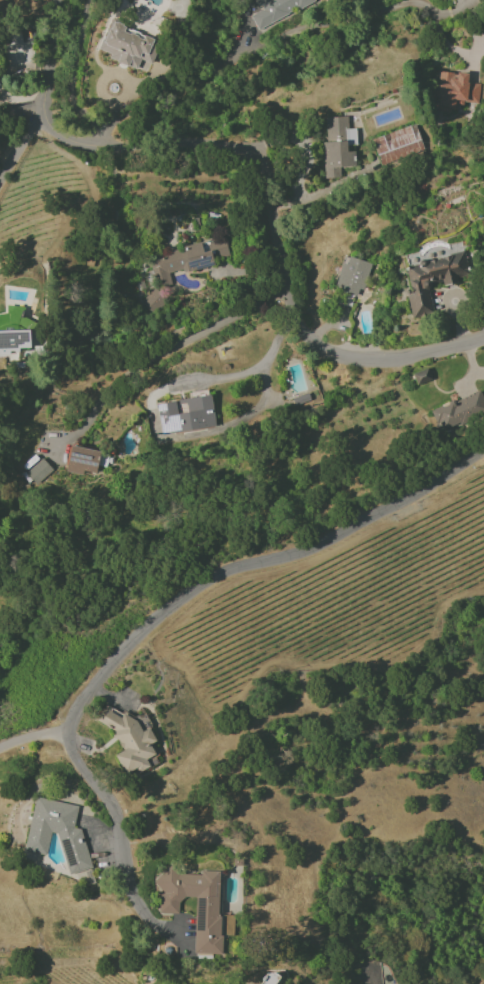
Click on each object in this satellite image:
building: (276, 10)
road: (440, 31)
building: (128, 48)
road: (47, 52)
building: (454, 91)
road: (177, 103)
road: (23, 108)
road: (21, 139)
building: (397, 141)
building: (337, 145)
road: (303, 175)
road: (55, 190)
road: (274, 223)
building: (184, 260)
building: (351, 277)
building: (430, 280)
building: (152, 301)
building: (13, 341)
road: (160, 352)
road: (240, 376)
building: (420, 376)
building: (459, 409)
building: (185, 414)
building: (82, 460)
building: (38, 471)
crop: (339, 598)
road: (157, 619)
road: (33, 737)
building: (131, 741)
building: (57, 833)
building: (195, 904)
building: (264, 979)

